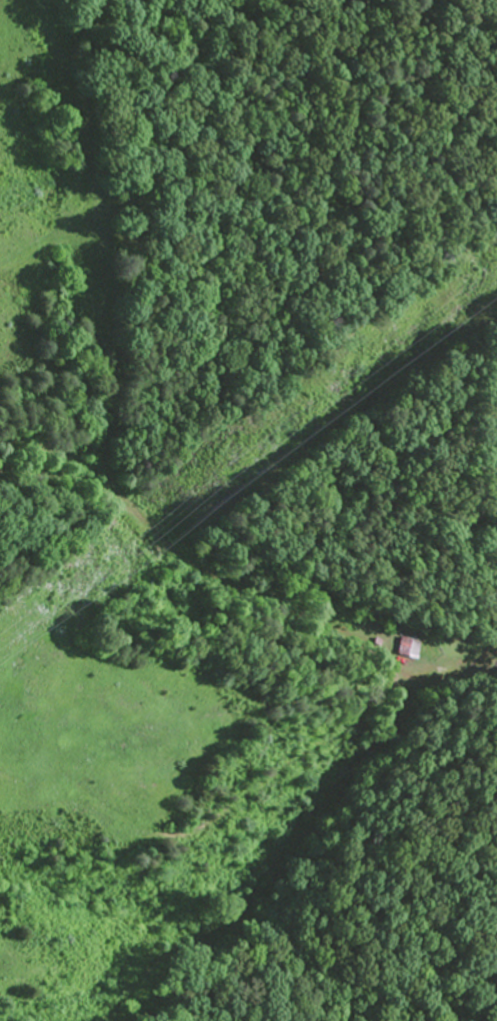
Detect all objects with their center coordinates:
building: (411, 650)
road: (250, 801)

